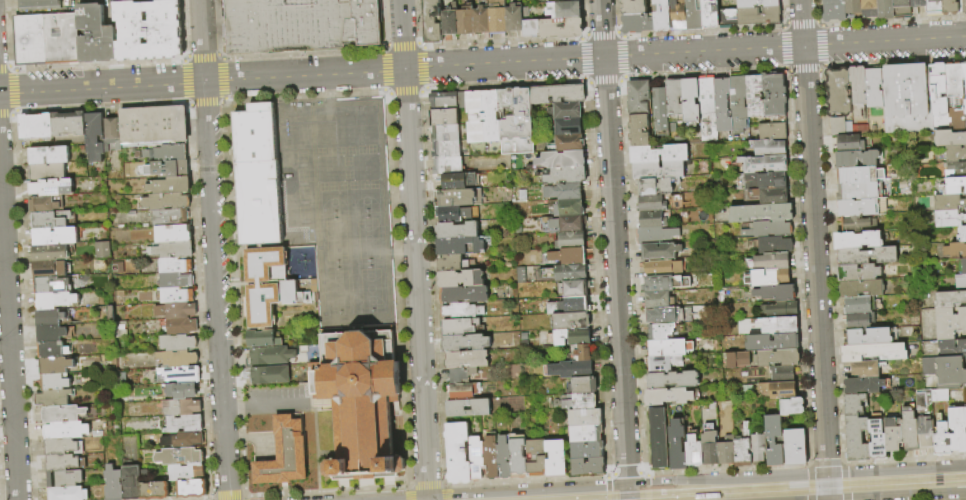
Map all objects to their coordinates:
building: (546, 0)
building: (560, 0)
building: (38, 3)
building: (756, 3)
building: (918, 3)
building: (853, 6)
building: (962, 6)
building: (633, 7)
building: (934, 7)
building: (950, 7)
building: (870, 8)
building: (565, 9)
building: (886, 9)
building: (902, 9)
building: (834, 10)
building: (709, 14)
building: (661, 15)
building: (677, 15)
building: (693, 15)
building: (497, 17)
building: (758, 17)
building: (514, 18)
building: (727, 19)
building: (481, 20)
building: (432, 21)
building: (449, 21)
building: (465, 21)
building: (636, 24)
building: (299, 25)
building: (553, 27)
building: (148, 30)
building: (95, 35)
building: (60, 39)
building: (28, 41)
road: (482, 64)
road: (3, 66)
road: (10, 68)
building: (964, 85)
building: (873, 88)
building: (857, 90)
road: (14, 91)
building: (837, 93)
building: (556, 94)
building: (774, 95)
building: (755, 96)
building: (937, 96)
building: (638, 97)
building: (674, 97)
building: (954, 97)
building: (906, 99)
building: (443, 100)
building: (461, 100)
building: (690, 100)
building: (739, 102)
building: (722, 104)
building: (660, 109)
building: (707, 109)
building: (564, 110)
road: (12, 113)
road: (5, 115)
building: (474, 116)
building: (490, 116)
building: (443, 117)
building: (516, 121)
building: (67, 124)
building: (152, 124)
park: (365, 125)
building: (567, 126)
building: (35, 127)
park: (345, 127)
park: (297, 128)
park: (324, 128)
building: (844, 128)
building: (638, 130)
building: (772, 131)
building: (111, 133)
building: (444, 133)
building: (93, 137)
building: (949, 139)
building: (569, 142)
building: (849, 144)
building: (769, 148)
park: (371, 149)
building: (445, 149)
park: (340, 150)
park: (350, 150)
park: (361, 150)
building: (169, 152)
park: (321, 152)
park: (331, 152)
building: (658, 152)
building: (952, 154)
building: (48, 155)
park: (301, 155)
building: (561, 159)
building: (855, 159)
park: (347, 161)
building: (764, 163)
park: (302, 165)
building: (447, 165)
park: (365, 167)
building: (170, 168)
park: (330, 169)
building: (658, 170)
building: (955, 170)
building: (45, 171)
park: (302, 174)
park: (348, 174)
building: (564, 175)
building: (859, 176)
building: (258, 177)
building: (456, 180)
building: (765, 180)
park: (302, 183)
park: (373, 184)
building: (168, 185)
park: (352, 185)
park: (363, 185)
park: (332, 186)
park: (342, 186)
building: (654, 186)
building: (48, 187)
park: (323, 187)
building: (952, 187)
building: (564, 191)
building: (852, 192)
park: (303, 193)
building: (771, 195)
building: (965, 196)
building: (457, 197)
building: (164, 201)
park: (365, 201)
park: (303, 202)
building: (44, 203)
park: (333, 203)
building: (652, 203)
building: (948, 203)
building: (569, 208)
building: (856, 208)
track: (315, 210)
park: (304, 212)
building: (761, 212)
building: (452, 213)
building: (168, 216)
building: (50, 219)
building: (652, 219)
building: (948, 220)
park: (304, 221)
building: (566, 222)
building: (855, 224)
building: (769, 229)
park: (305, 230)
building: (456, 230)
building: (172, 233)
building: (655, 234)
building: (962, 234)
road: (813, 235)
building: (55, 236)
park: (367, 238)
building: (571, 239)
park: (305, 240)
park: (335, 240)
road: (613, 241)
building: (856, 241)
building: (774, 244)
building: (458, 245)
road: (413, 247)
building: (100, 249)
building: (170, 249)
road: (214, 249)
building: (660, 251)
building: (954, 251)
building: (48, 252)
building: (569, 255)
building: (866, 256)
building: (771, 261)
building: (449, 263)
building: (174, 265)
building: (47, 267)
building: (662, 267)
building: (961, 267)
building: (566, 272)
building: (857, 273)
building: (768, 277)
building: (460, 278)
building: (171, 280)
building: (960, 282)
building: (658, 283)
building: (51, 284)
building: (263, 286)
park: (369, 287)
building: (573, 288)
building: (860, 289)
park: (338, 291)
building: (291, 293)
building: (776, 293)
building: (463, 294)
building: (175, 295)
building: (54, 300)
building: (659, 300)
building: (949, 300)
building: (576, 304)
building: (859, 305)
building: (551, 308)
building: (780, 309)
building: (174, 310)
building: (461, 311)
building: (666, 315)
building: (48, 317)
building: (570, 320)
building: (859, 321)
building: (949, 324)
building: (778, 325)
building: (180, 327)
building: (457, 327)
building: (660, 331)
building: (50, 333)
building: (571, 336)
building: (869, 337)
building: (263, 339)
building: (464, 342)
building: (772, 342)
road: (8, 343)
building: (176, 343)
building: (669, 348)
building: (952, 349)
building: (51, 350)
building: (580, 351)
building: (873, 352)
building: (272, 356)
building: (777, 357)
building: (176, 358)
building: (466, 358)
building: (736, 359)
building: (662, 363)
building: (55, 365)
building: (571, 369)
building: (864, 369)
building: (945, 372)
building: (179, 374)
building: (782, 374)
building: (461, 375)
building: (271, 376)
building: (672, 379)
building: (53, 382)
building: (584, 384)
building: (862, 386)
building: (778, 389)
building: (174, 391)
building: (461, 392)
building: (667, 396)
building: (52, 397)
building: (929, 400)
road: (281, 401)
building: (579, 401)
building: (360, 403)
road: (240, 404)
building: (853, 404)
building: (792, 406)
building: (180, 407)
building: (467, 408)
building: (61, 413)
building: (965, 415)
building: (584, 417)
building: (182, 423)
building: (957, 429)
building: (64, 430)
building: (908, 431)
building: (585, 433)
building: (924, 433)
building: (892, 435)
building: (658, 437)
building: (856, 438)
building: (182, 439)
building: (965, 439)
building: (774, 440)
building: (941, 441)
building: (677, 445)
building: (59, 446)
building: (709, 446)
building: (758, 447)
building: (795, 447)
building: (877, 447)
building: (743, 448)
building: (586, 449)
building: (693, 451)
building: (457, 452)
building: (726, 453)
building: (285, 455)
building: (177, 456)
building: (536, 457)
building: (555, 457)
building: (490, 458)
building: (502, 458)
building: (517, 458)
road: (905, 458)
building: (477, 459)
building: (63, 462)
road: (826, 462)
building: (587, 466)
road: (896, 467)
road: (727, 468)
building: (185, 472)
road: (626, 473)
road: (726, 476)
building: (62, 478)
road: (527, 479)
road: (646, 479)
building: (130, 481)
road: (809, 481)
road: (846, 481)
building: (112, 483)
road: (427, 485)
road: (827, 485)
road: (608, 487)
railway: (638, 487)
railway: (743, 487)
building: (191, 488)
road: (527, 488)
road: (777, 488)
building: (153, 490)
road: (326, 491)
road: (627, 491)
railway: (806, 491)
road: (408, 492)
road: (446, 492)
building: (67, 493)
road: (647, 495)
road: (227, 497)
road: (372, 497)
road: (427, 497)
road: (915, 497)
road: (245, 498)
road: (190, 499)
road: (210, 499)

